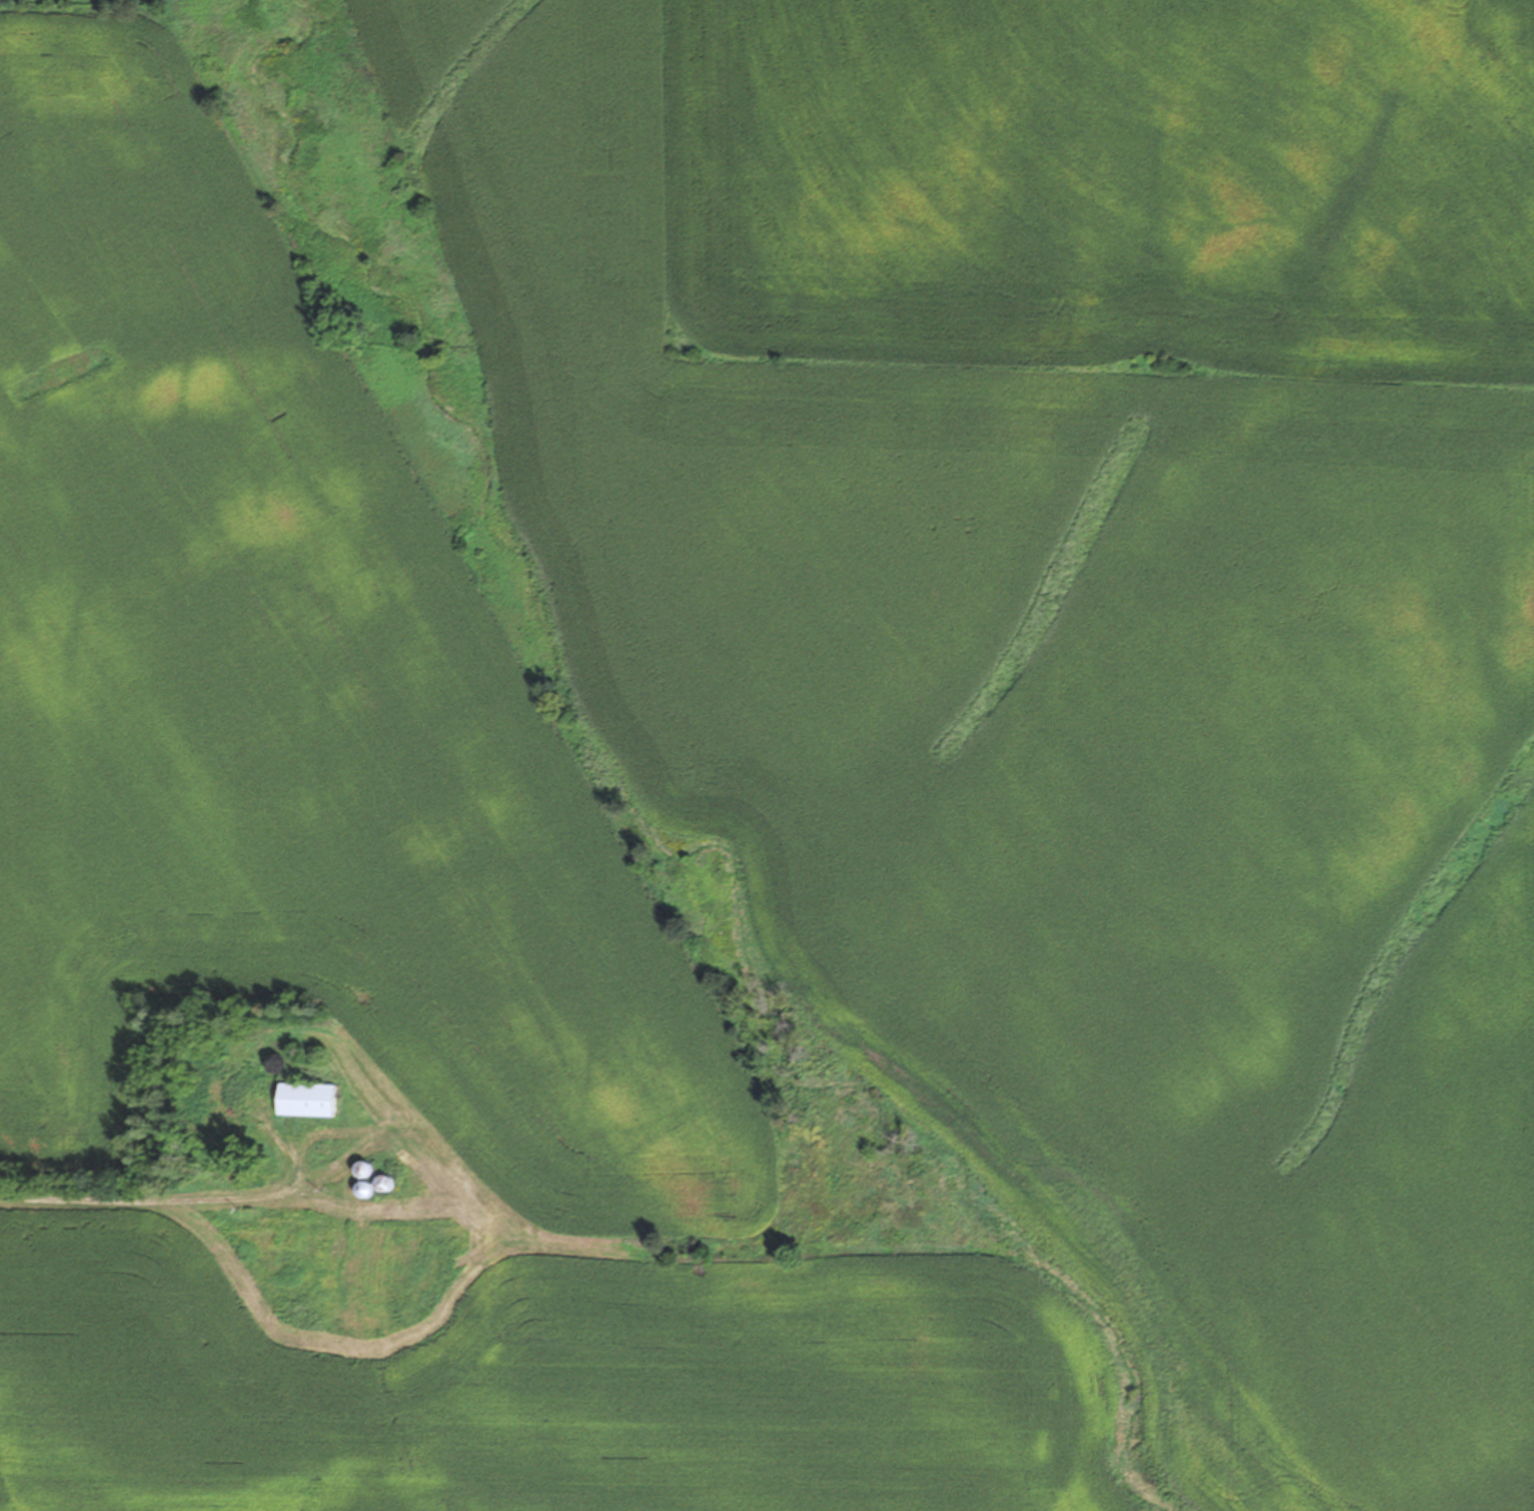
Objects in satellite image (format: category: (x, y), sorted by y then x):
building: (317, 1099)
building: (229, 1111)
road: (130, 1195)
building: (284, 1278)

